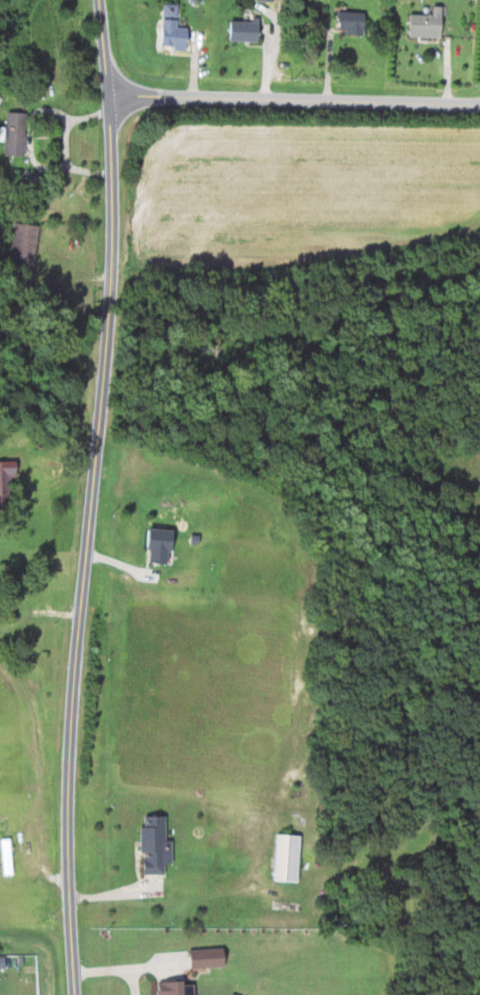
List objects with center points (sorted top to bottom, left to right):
building: (348, 22)
building: (422, 25)
building: (171, 28)
building: (241, 30)
road: (293, 97)
building: (12, 133)
building: (21, 243)
road: (48, 458)
building: (5, 479)
road: (94, 497)
building: (156, 546)
road: (40, 613)
building: (151, 845)
building: (285, 857)
building: (203, 957)
road: (127, 967)
road: (132, 981)
building: (172, 987)

